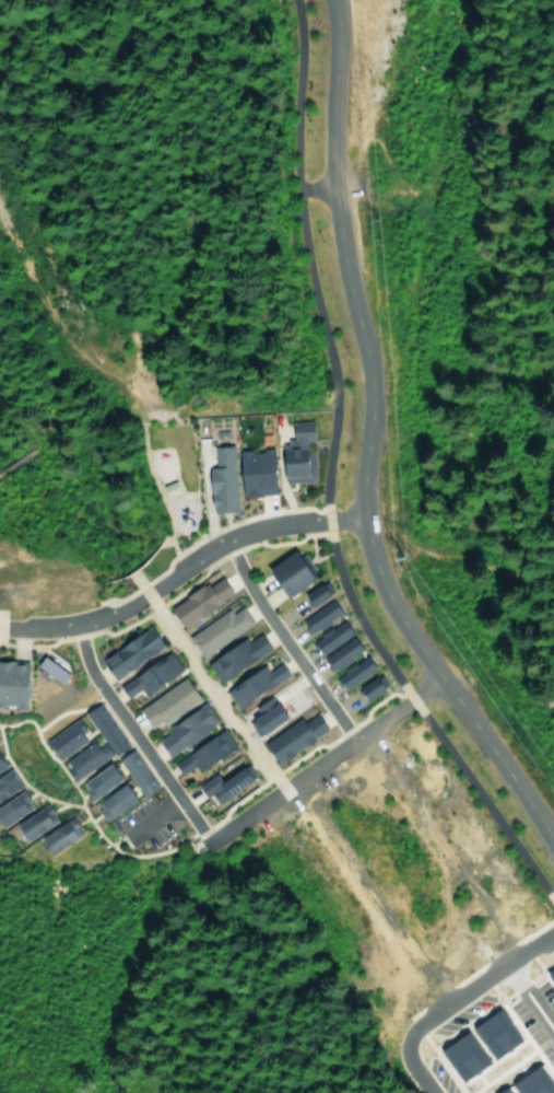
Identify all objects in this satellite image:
road: (382, 100)
road: (315, 187)
power tower: (375, 218)
road: (69, 417)
road: (363, 450)
building: (293, 454)
road: (16, 460)
building: (233, 477)
road: (326, 481)
road: (155, 488)
road: (458, 554)
power tower: (403, 556)
road: (178, 567)
building: (285, 573)
building: (313, 593)
building: (193, 602)
building: (316, 617)
building: (215, 630)
building: (327, 637)
road: (282, 641)
building: (126, 652)
building: (337, 654)
building: (233, 655)
building: (46, 670)
building: (350, 673)
building: (145, 675)
road: (207, 679)
building: (251, 683)
building: (10, 684)
building: (367, 687)
building: (163, 704)
road: (68, 709)
building: (258, 716)
building: (101, 729)
building: (182, 729)
road: (132, 735)
building: (288, 737)
building: (62, 740)
road: (46, 751)
building: (199, 753)
building: (82, 758)
road: (318, 761)
building: (1, 767)
building: (132, 772)
building: (95, 781)
building: (7, 782)
building: (222, 783)
road: (26, 787)
road: (241, 797)
building: (109, 802)
building: (11, 806)
road: (151, 815)
building: (31, 822)
building: (55, 836)
building: (549, 978)
road: (450, 1000)
road: (528, 1001)
building: (473, 1045)
building: (524, 1083)

